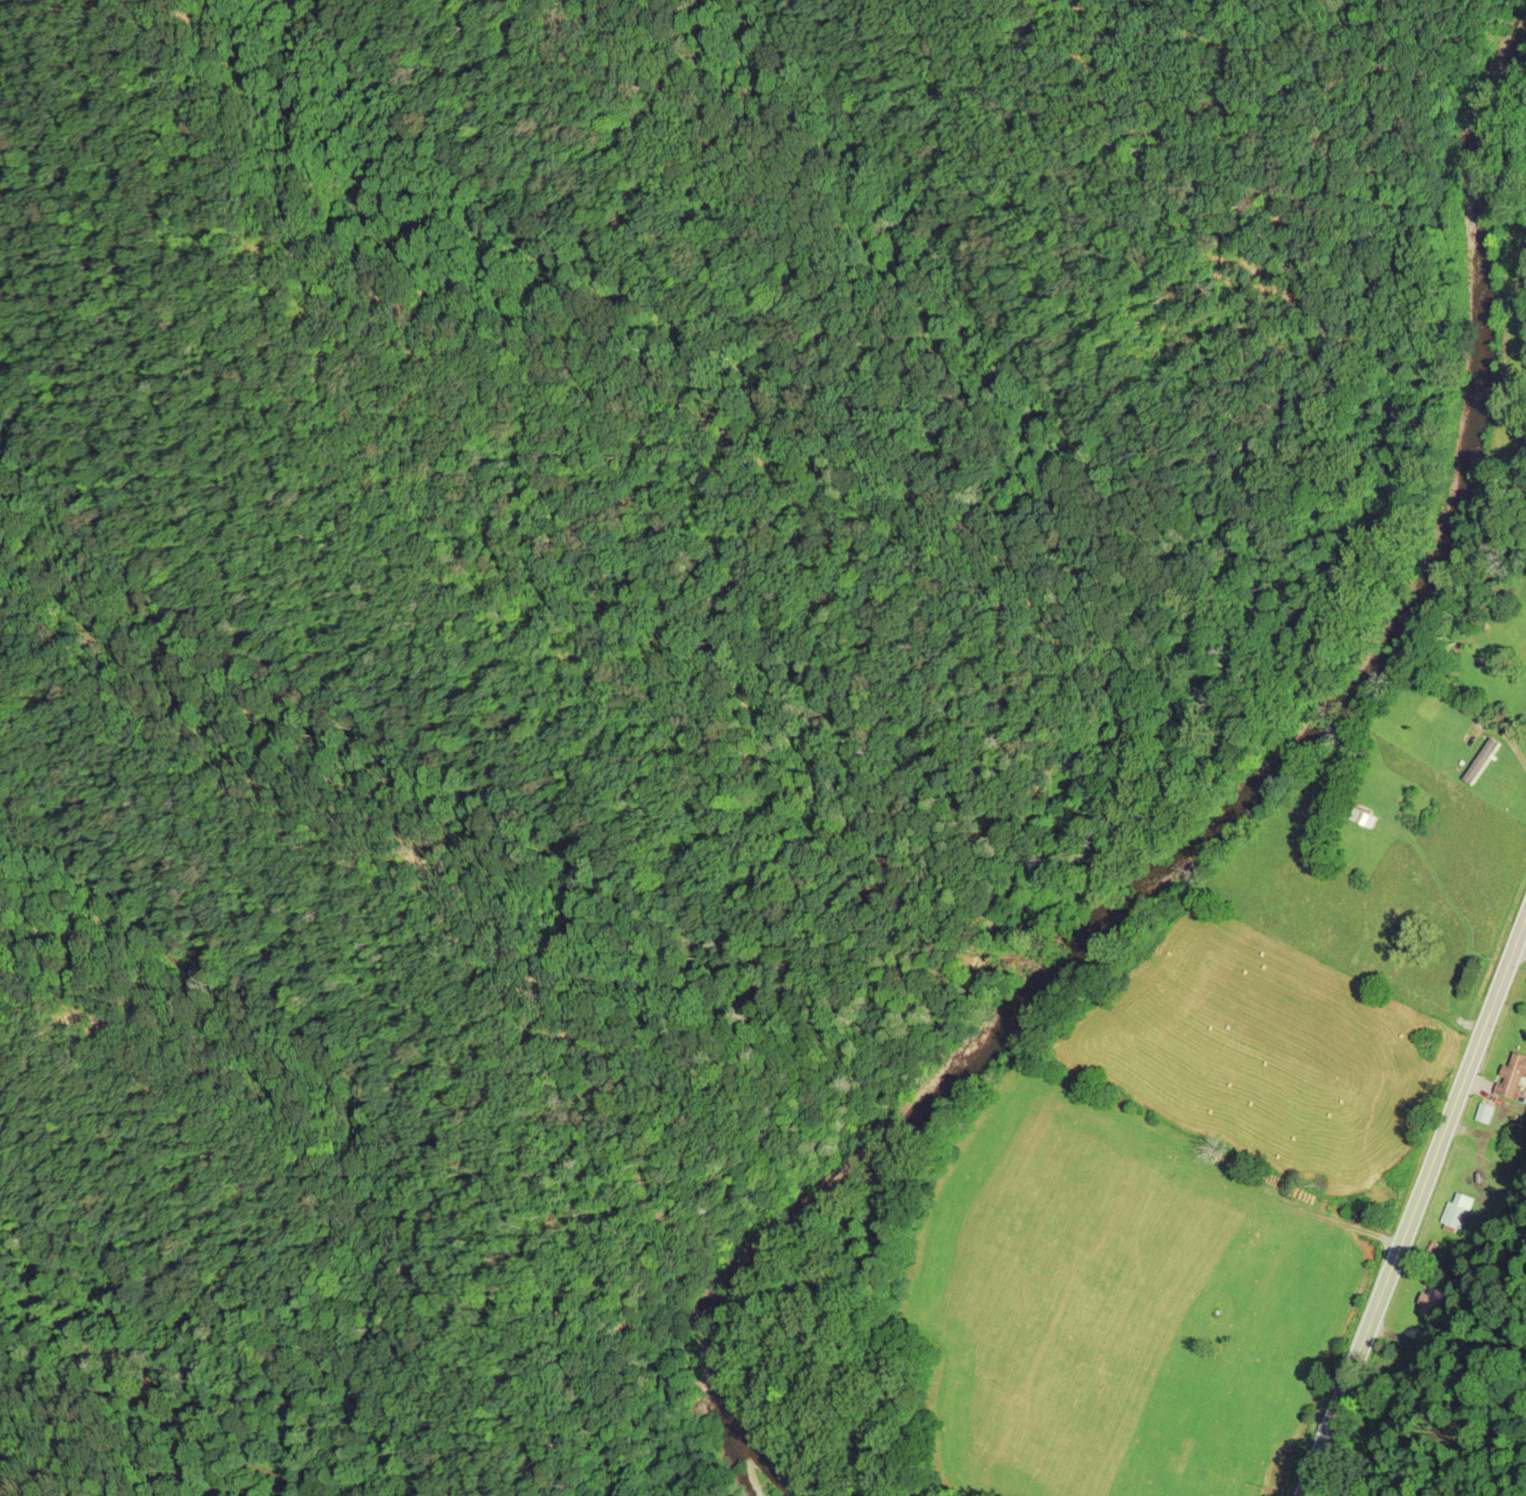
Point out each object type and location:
river: (1236, 809)
building: (1512, 1075)
road: (1418, 1208)
building: (1456, 1215)
building: (1438, 1301)
road: (159, 1461)

